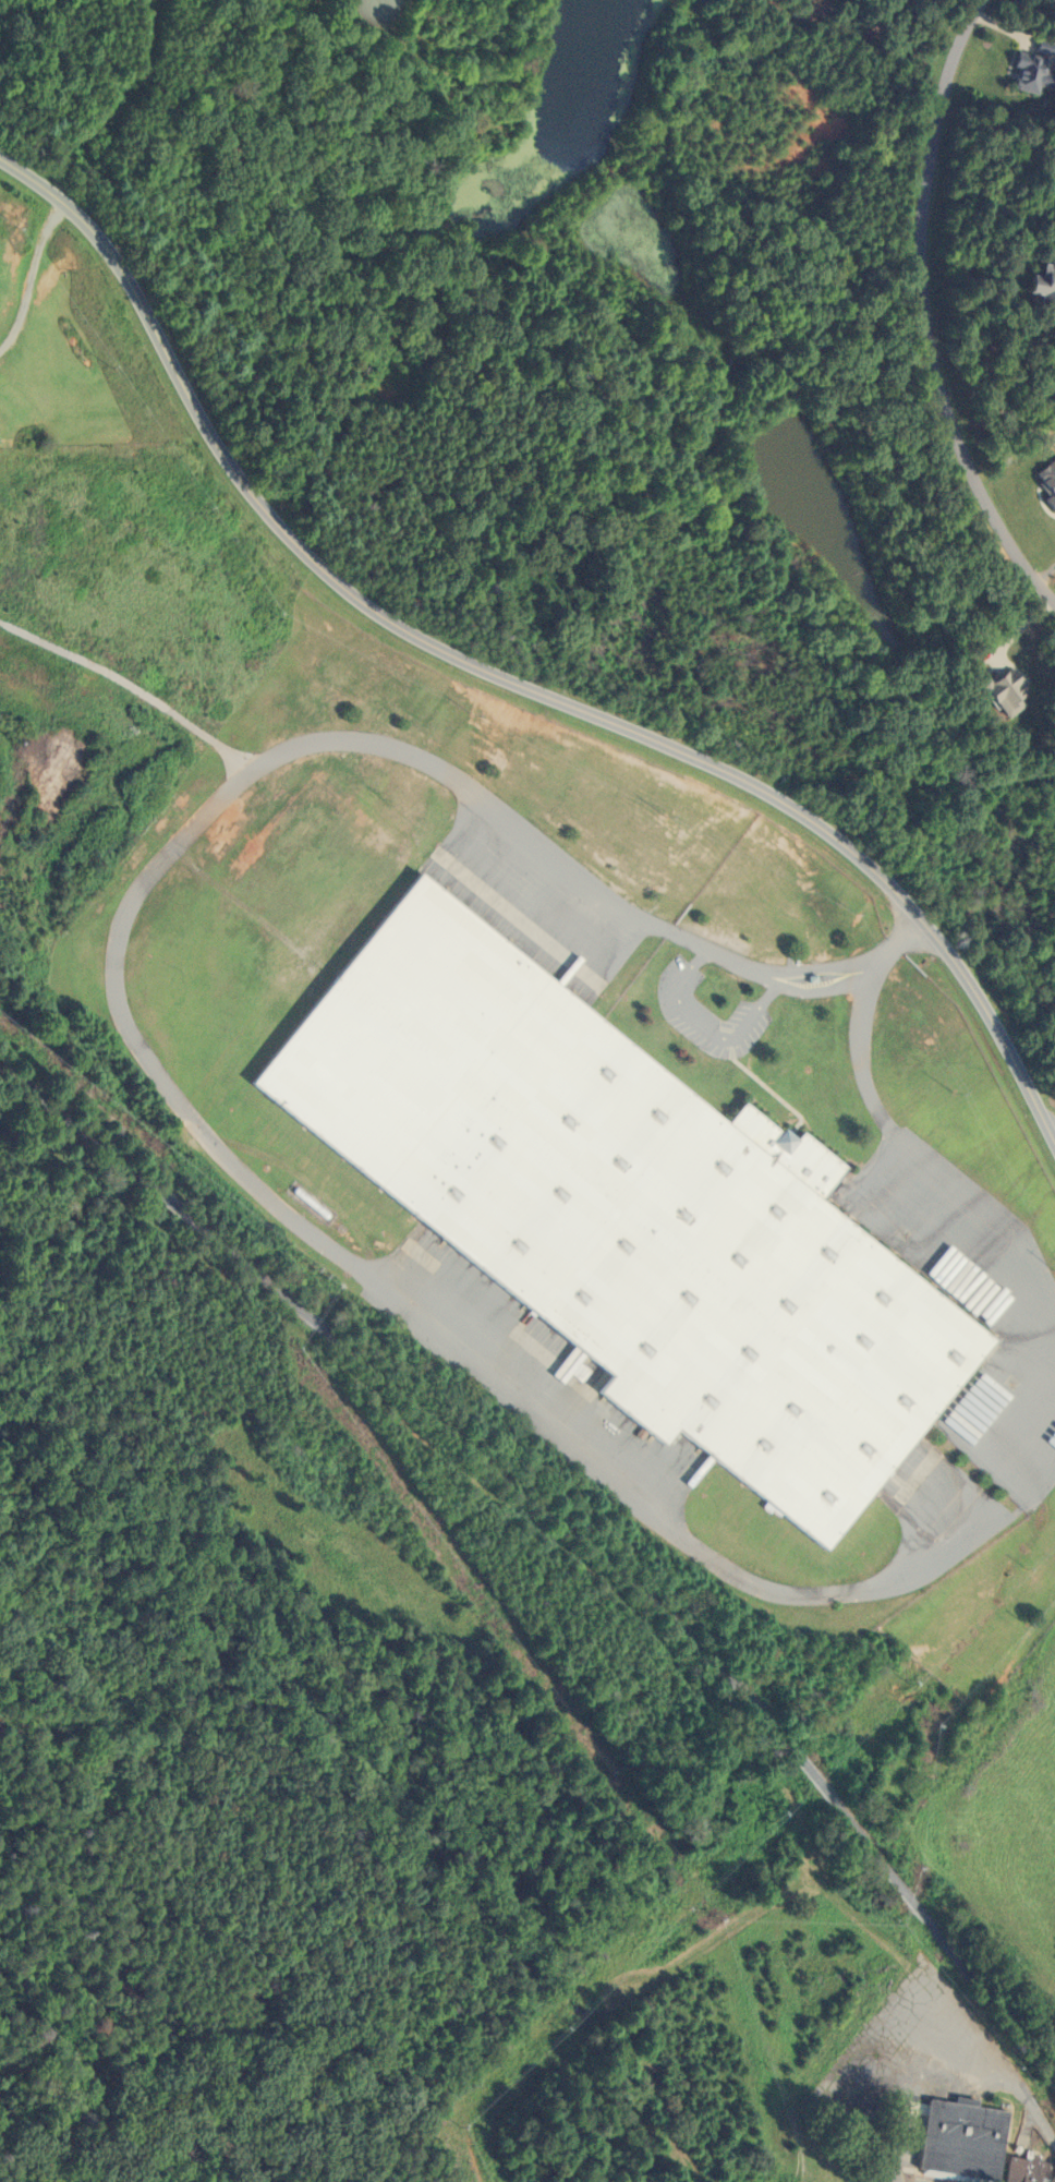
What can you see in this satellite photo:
building: (1048, 3)
building: (1021, 72)
road: (28, 272)
building: (1038, 287)
road: (923, 313)
park: (62, 359)
building: (1042, 481)
road: (507, 679)
road: (130, 684)
building: (999, 691)
road: (710, 1028)
road: (134, 1046)
road: (1054, 1143)
road: (923, 1156)
building: (623, 1208)
road: (1028, 1443)
road: (568, 1526)
building: (956, 2141)
building: (1020, 2170)

